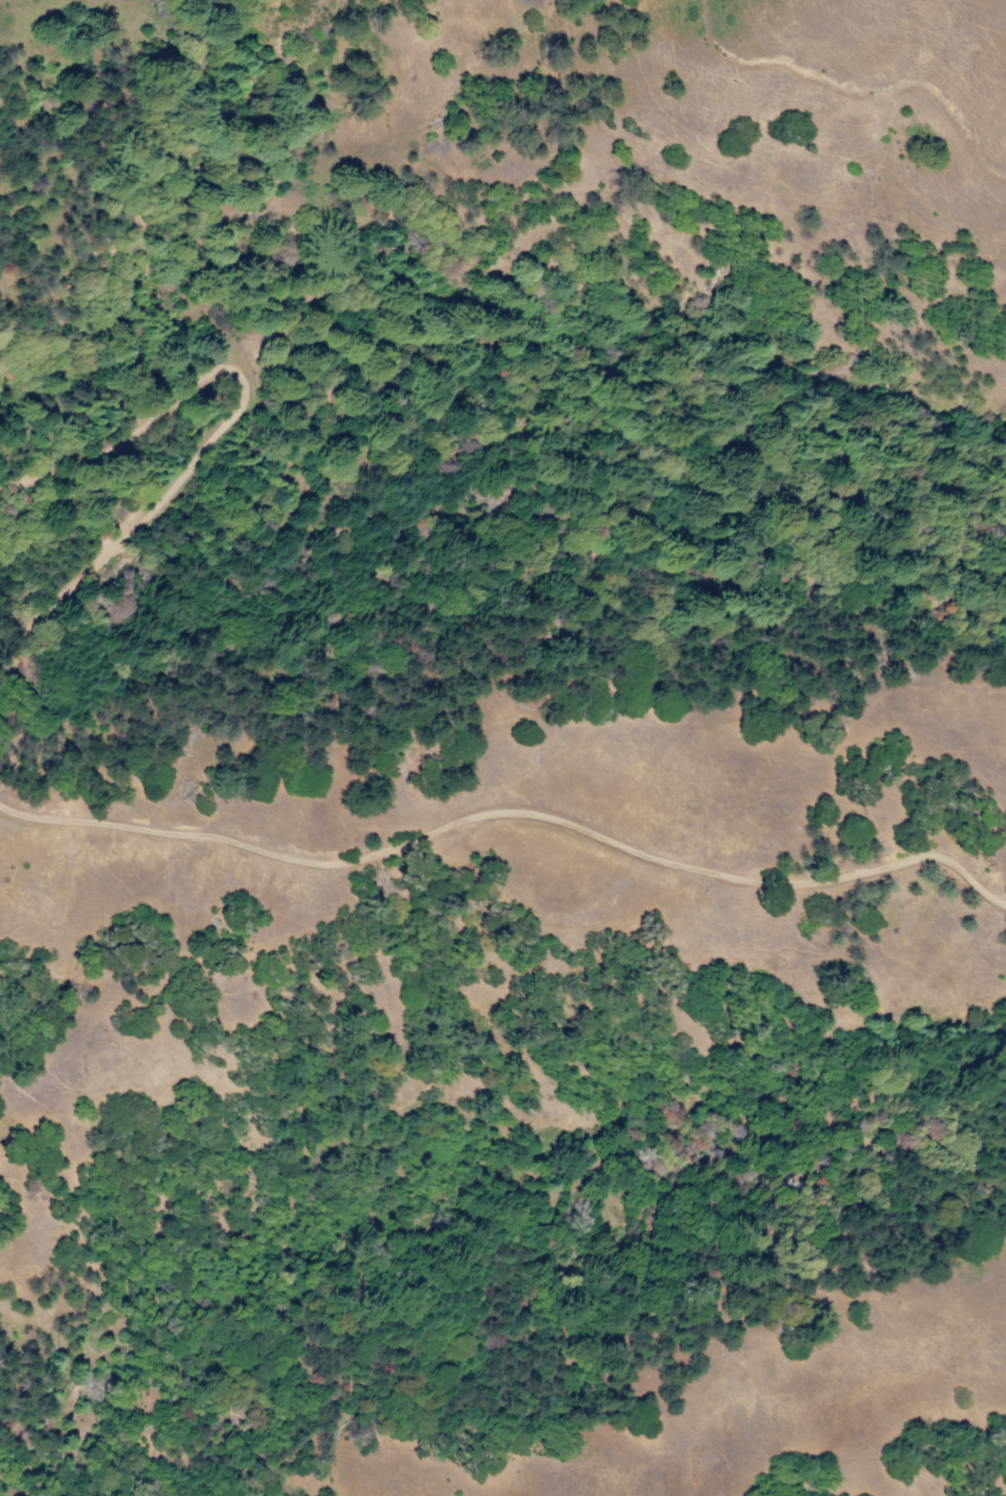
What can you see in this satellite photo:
road: (221, 431)
road: (507, 812)

